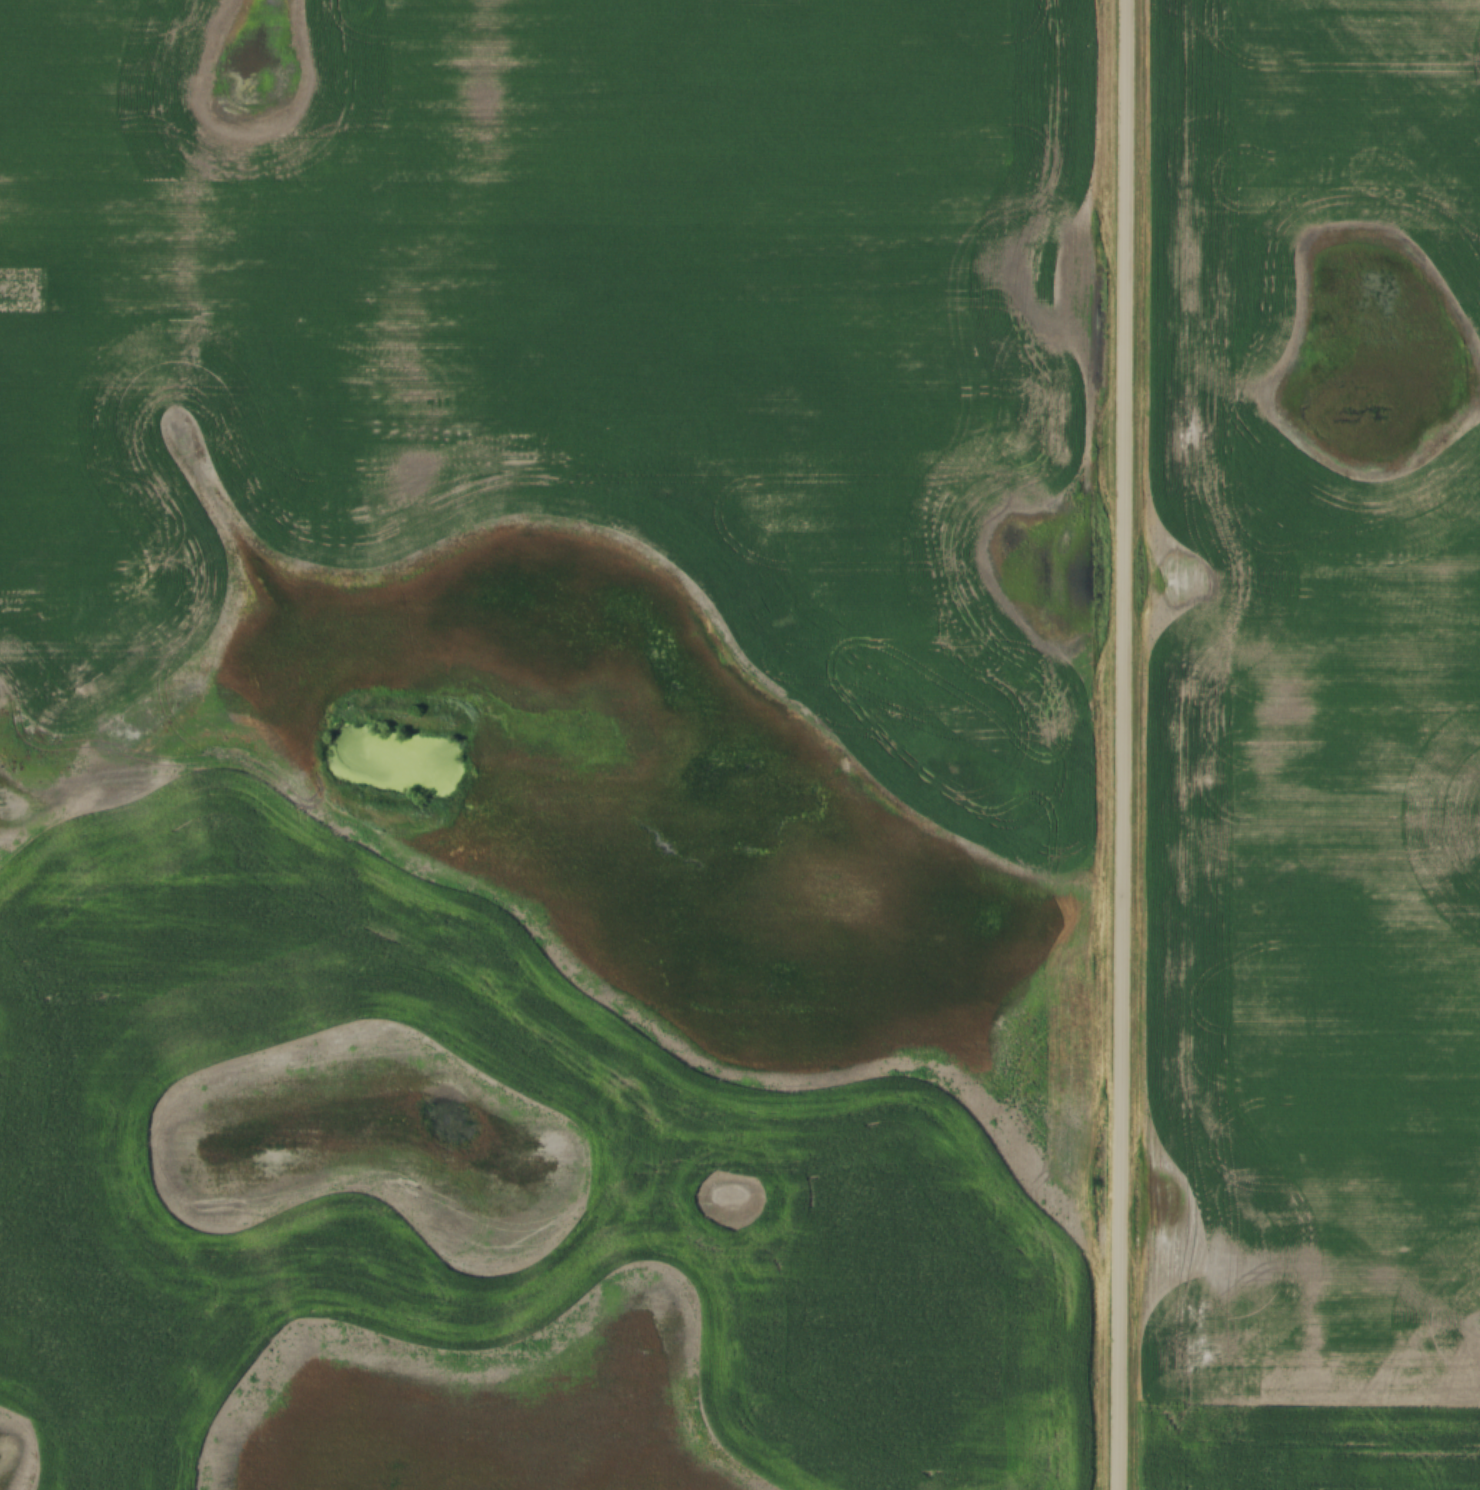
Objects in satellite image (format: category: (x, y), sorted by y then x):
road: (1123, 745)

